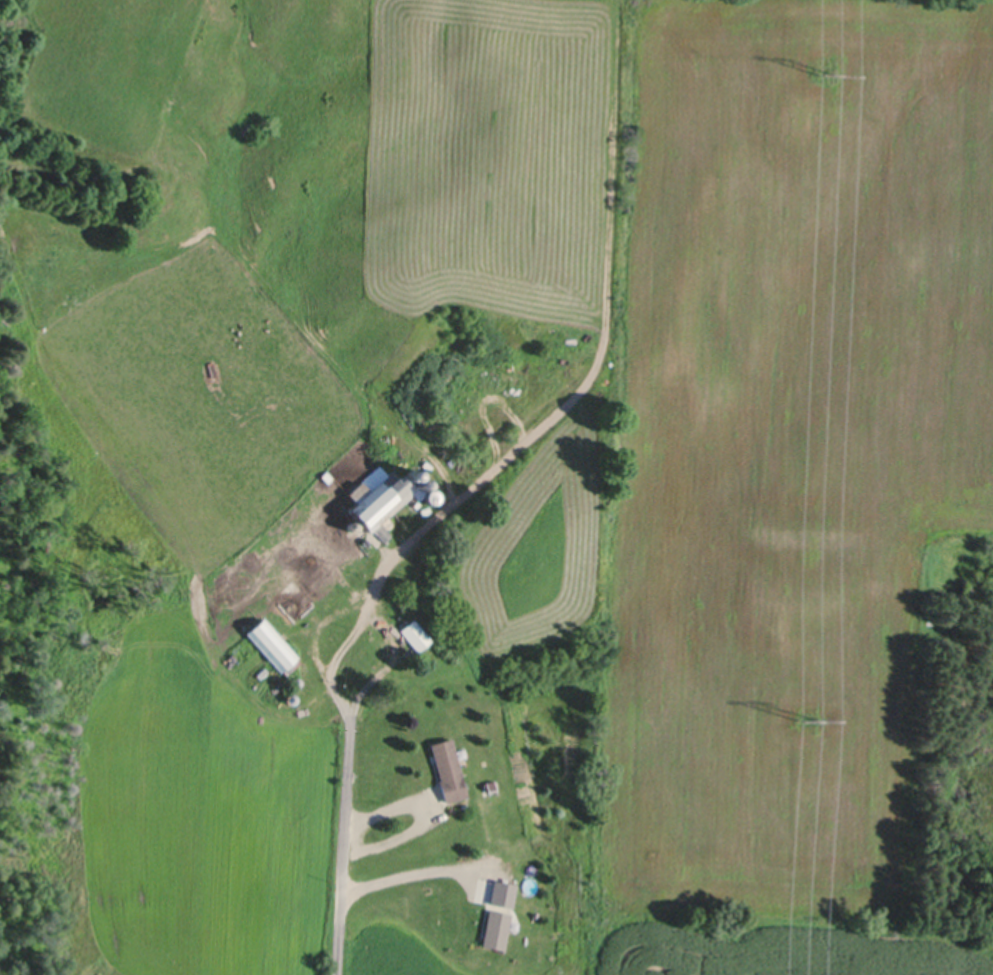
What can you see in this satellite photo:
power tower: (821, 70)
building: (428, 463)
building: (328, 475)
building: (381, 497)
building: (419, 508)
building: (352, 524)
building: (416, 632)
building: (273, 643)
building: (297, 678)
building: (291, 695)
power tower: (805, 715)
building: (448, 767)
building: (492, 786)
road: (346, 845)
building: (503, 891)
building: (496, 927)

